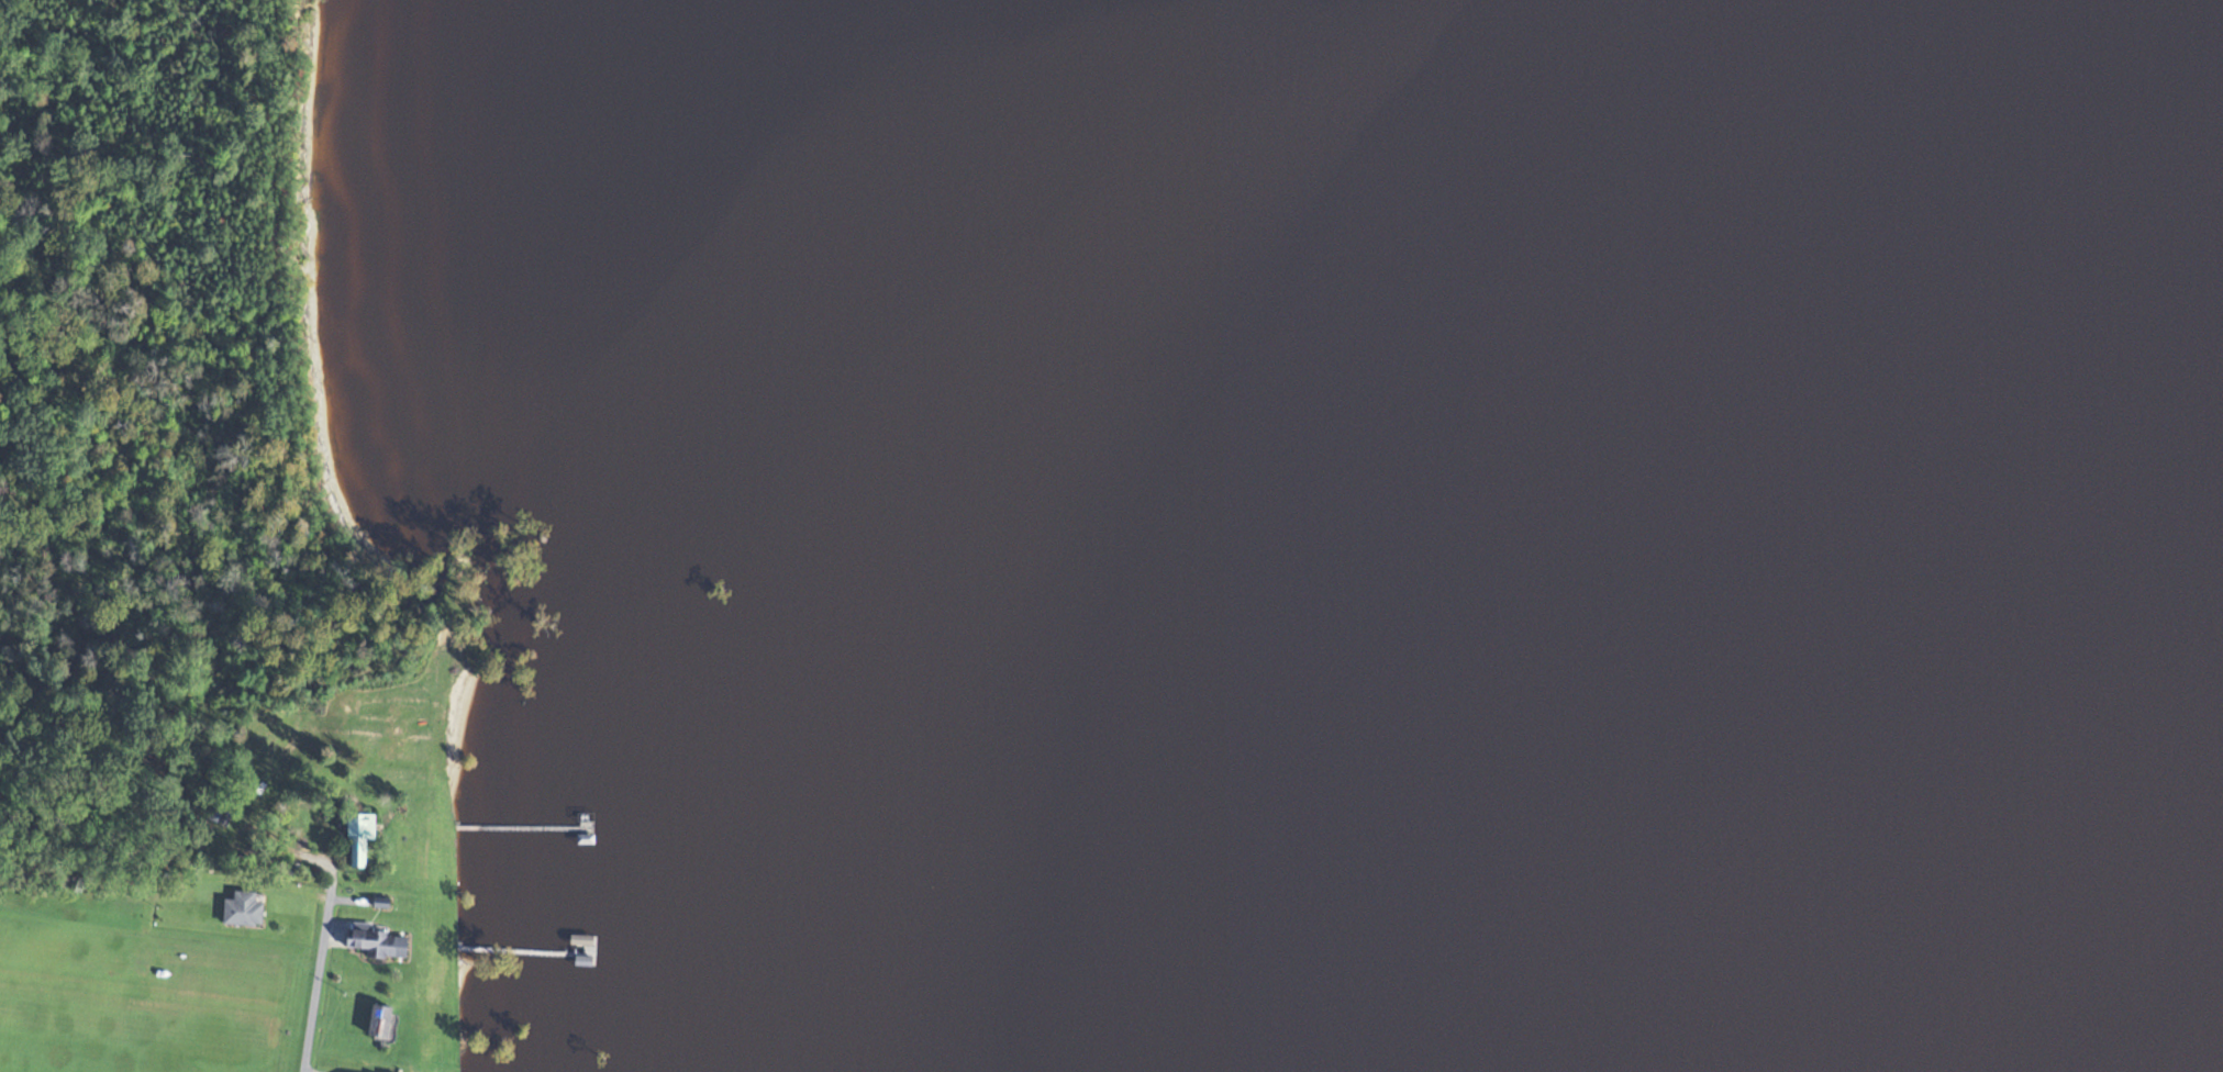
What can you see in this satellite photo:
park: (167, 303)
building: (357, 831)
building: (241, 909)
building: (371, 942)
road: (314, 983)
building: (377, 1021)

